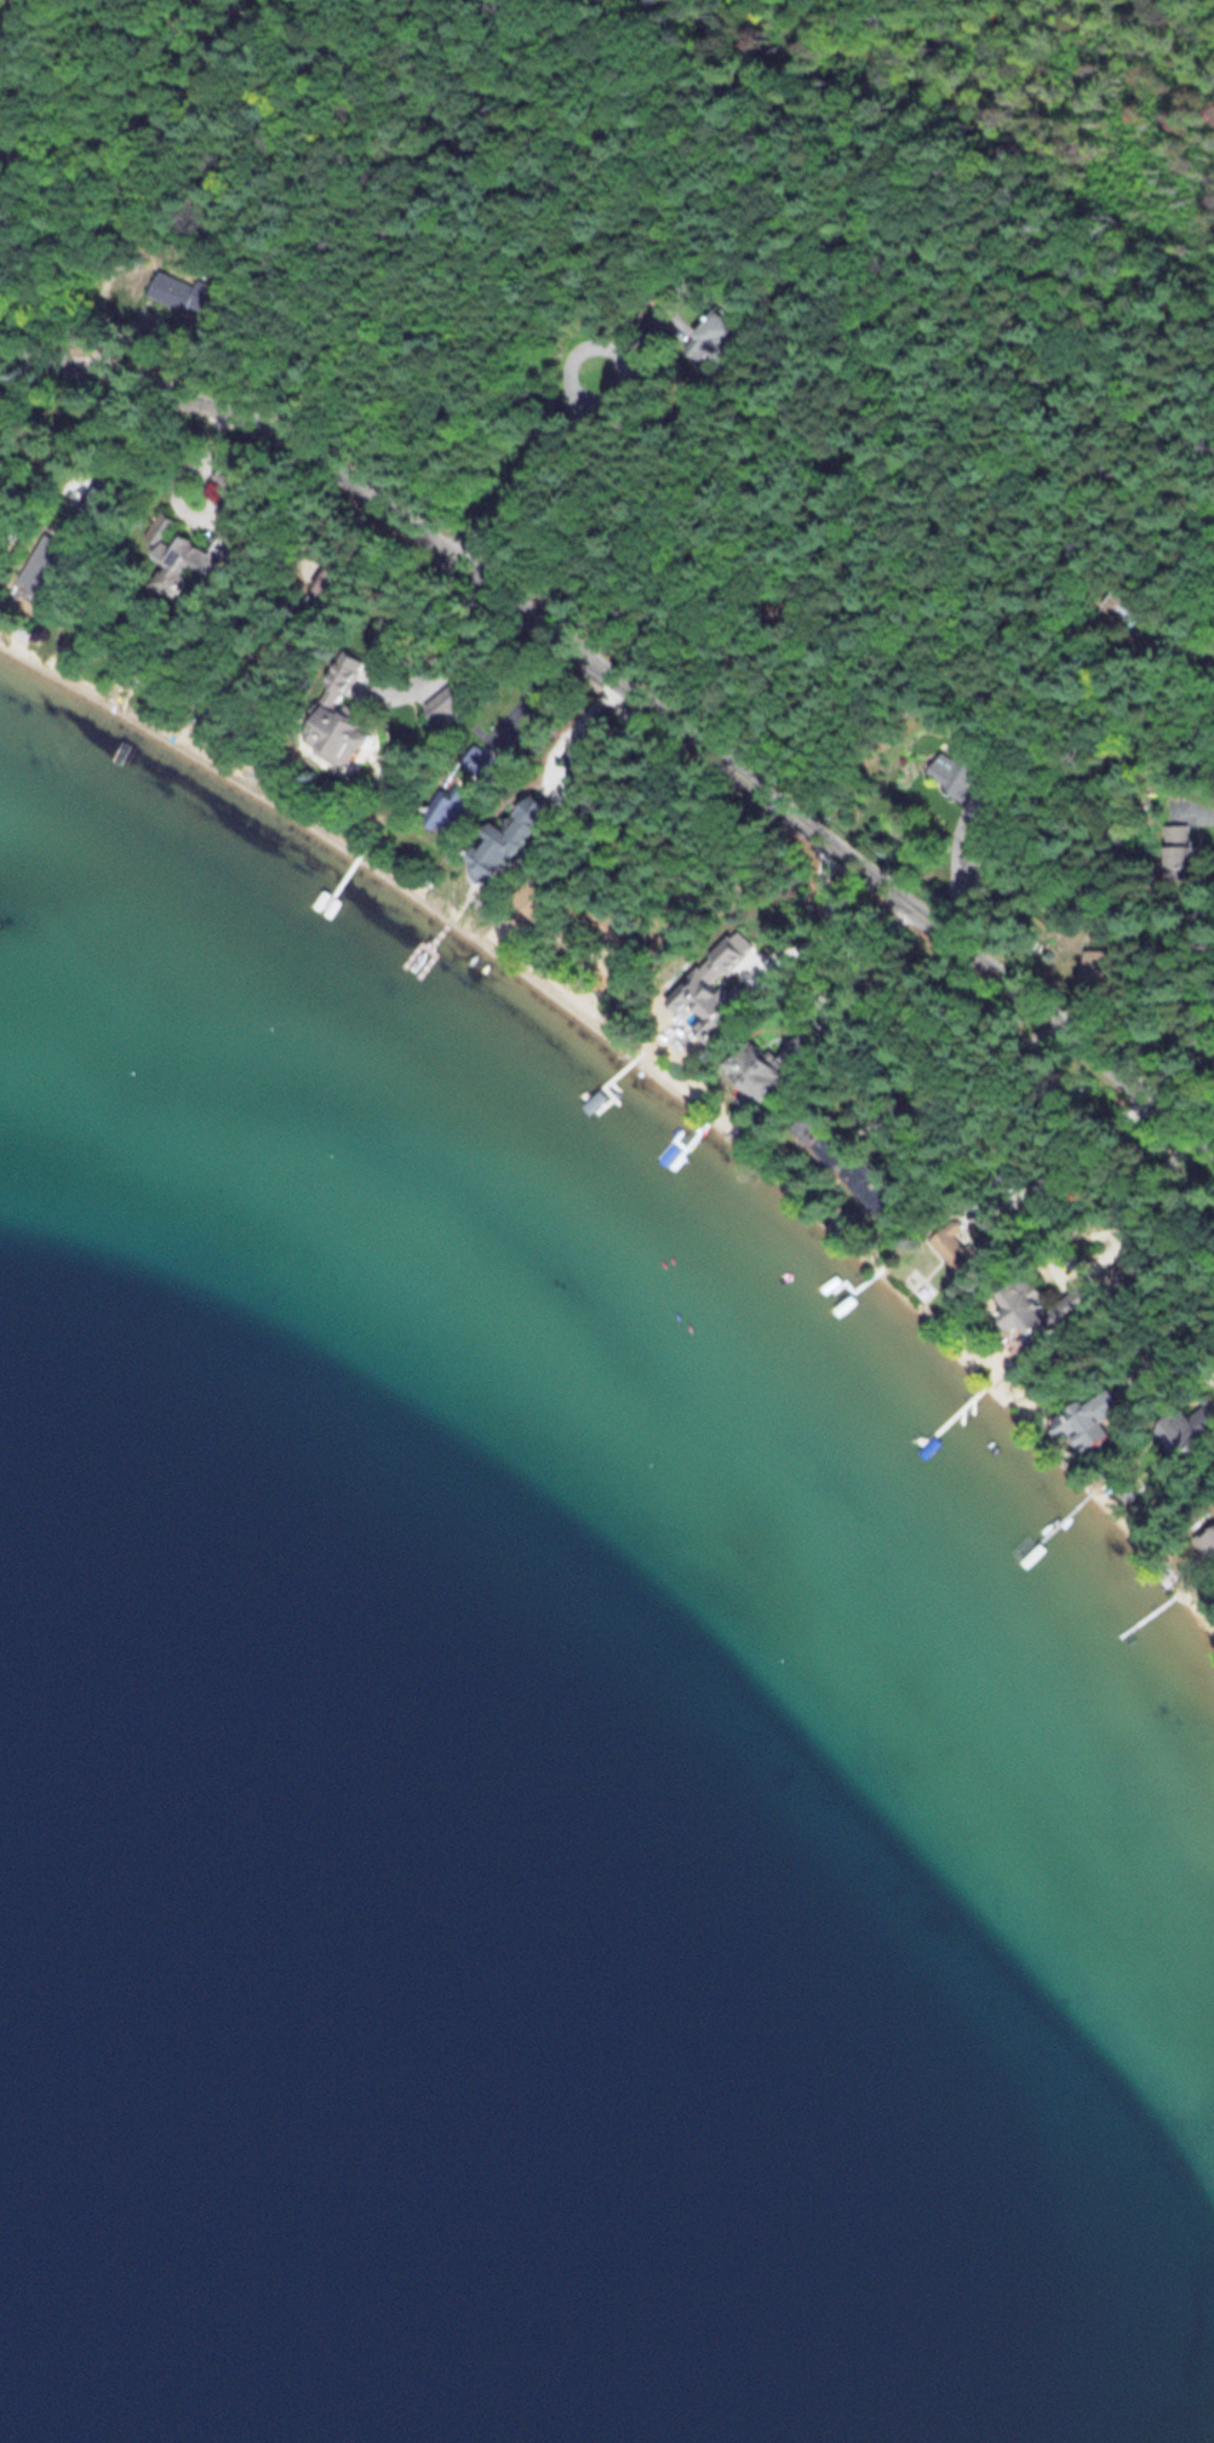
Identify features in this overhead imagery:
building: (188, 292)
building: (721, 337)
road: (583, 404)
building: (174, 551)
building: (40, 561)
building: (606, 693)
road: (637, 696)
building: (442, 704)
building: (334, 716)
building: (960, 771)
building: (449, 807)
building: (504, 840)
building: (1178, 849)
building: (700, 1003)
building: (772, 1064)
building: (1129, 1269)
building: (1017, 1304)
building: (1084, 1418)
building: (1186, 1429)
building: (1207, 1540)

